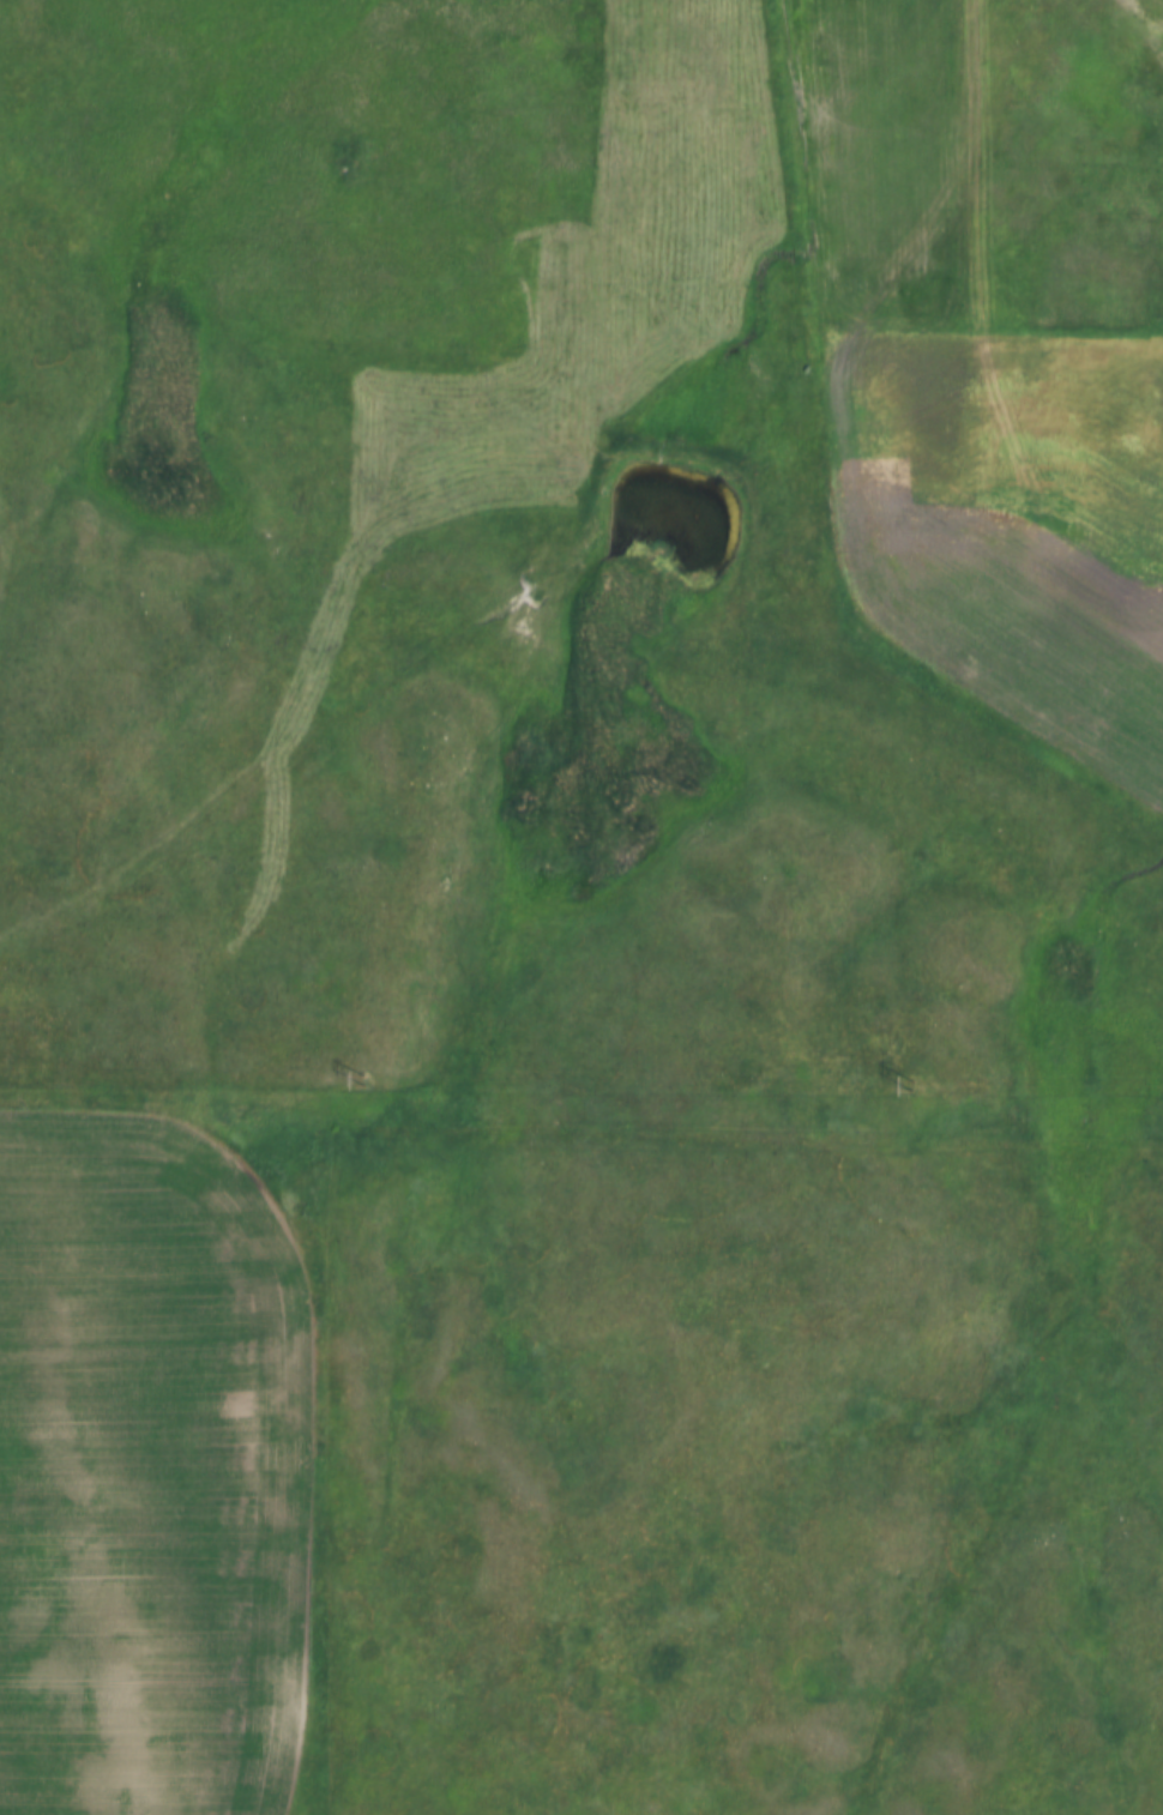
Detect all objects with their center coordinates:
road: (836, 492)

